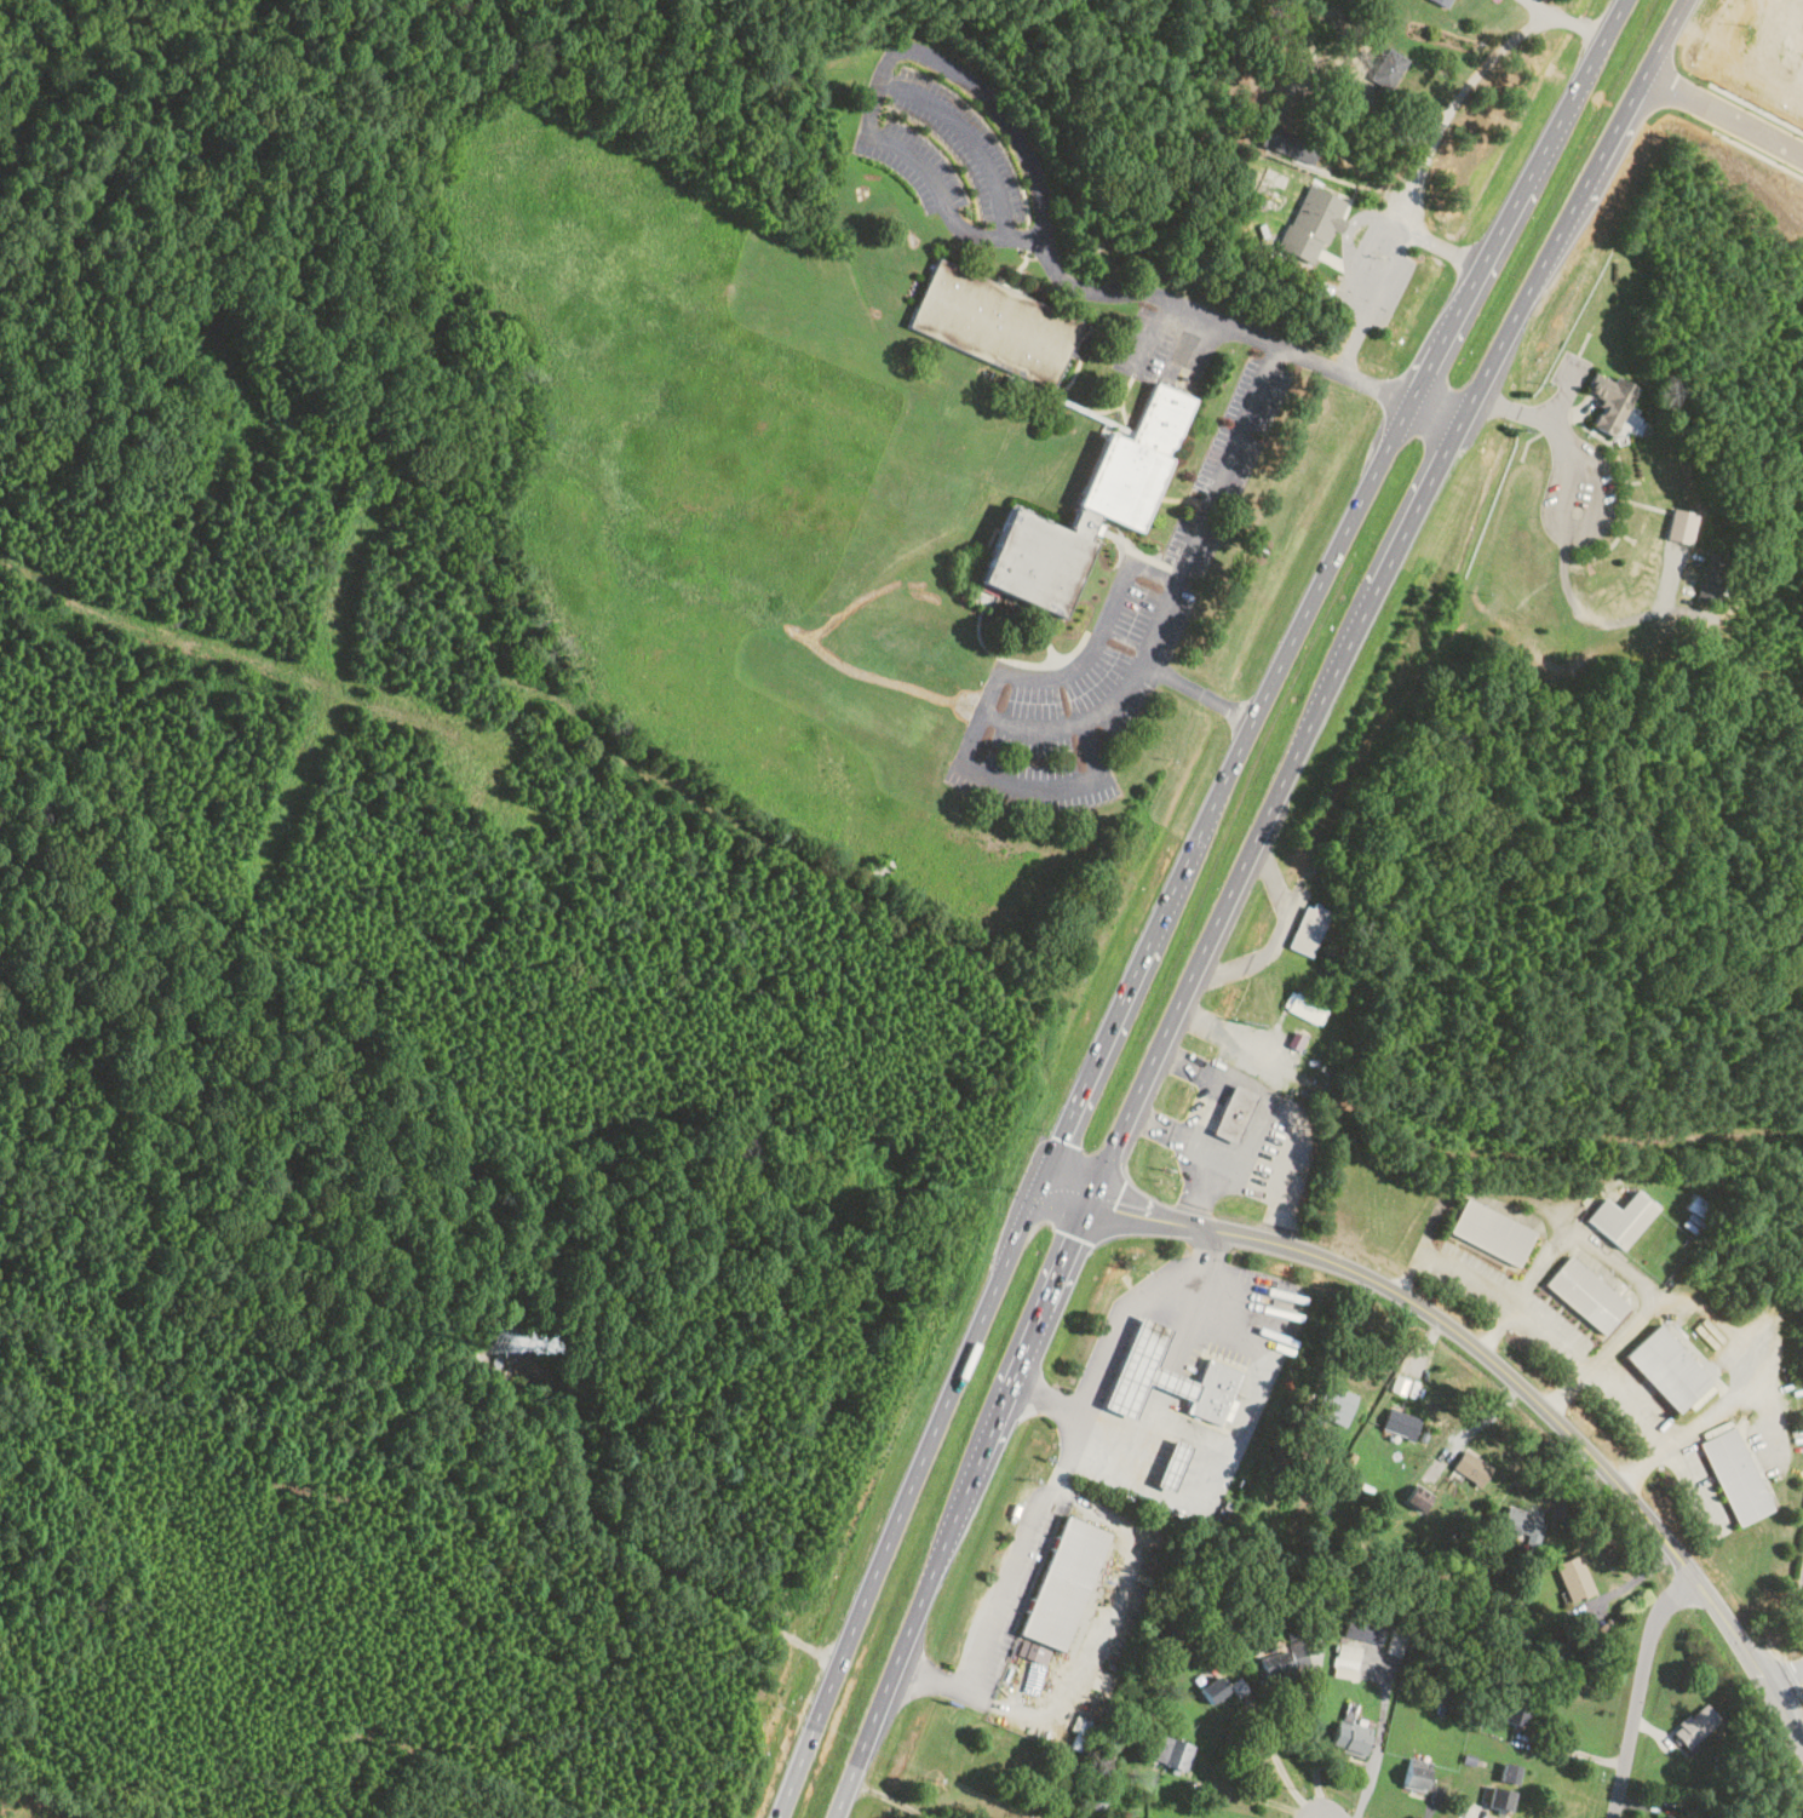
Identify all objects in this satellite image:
building: (1439, 2)
road: (1551, 11)
road: (908, 51)
building: (1385, 69)
road: (1724, 111)
road: (1447, 114)
road: (971, 138)
building: (1286, 144)
road: (1520, 195)
road: (1577, 201)
building: (1309, 223)
road: (1372, 296)
building: (990, 322)
road: (1152, 336)
road: (1276, 345)
building: (1606, 401)
road: (1564, 497)
building: (1085, 510)
building: (1681, 524)
building: (1710, 577)
road: (1171, 590)
road: (1195, 690)
road: (987, 696)
road: (1223, 781)
road: (1274, 797)
building: (1307, 929)
building: (1302, 1008)
road: (1234, 1036)
building: (1297, 1039)
road: (1258, 1094)
road: (1206, 1108)
building: (1231, 1113)
traffic signals: (1061, 1139)
road: (1193, 1152)
traffic signals: (1116, 1208)
building: (1618, 1218)
building: (1488, 1233)
traffic signals: (1076, 1235)
road: (1206, 1258)
road: (1618, 1263)
building: (1583, 1294)
road: (1571, 1355)
road: (1493, 1359)
building: (1664, 1367)
building: (1147, 1369)
building: (1215, 1392)
road: (1247, 1400)
building: (1332, 1404)
road: (943, 1411)
road: (1715, 1411)
building: (1399, 1423)
building: (1175, 1464)
building: (1470, 1466)
building: (1733, 1475)
road: (959, 1507)
building: (1518, 1521)
road: (628, 1549)
building: (1572, 1577)
building: (1064, 1582)
road: (1004, 1585)
building: (1361, 1629)
road: (1102, 1634)
building: (1396, 1641)
building: (1271, 1646)
building: (1033, 1651)
road: (1775, 1651)
building: (1344, 1657)
building: (1274, 1669)
road: (1785, 1670)
road: (1791, 1673)
road: (1802, 1686)
building: (1210, 1688)
road: (1637, 1690)
road: (1802, 1691)
building: (1514, 1710)
building: (1692, 1725)
road: (1316, 1728)
building: (1083, 1732)
road: (811, 1733)
building: (1353, 1736)
road: (1377, 1743)
building: (1165, 1751)
road: (1276, 1757)
building: (1413, 1773)
building: (1500, 1787)
road: (1253, 1795)
road: (890, 1797)
building: (1660, 1817)

